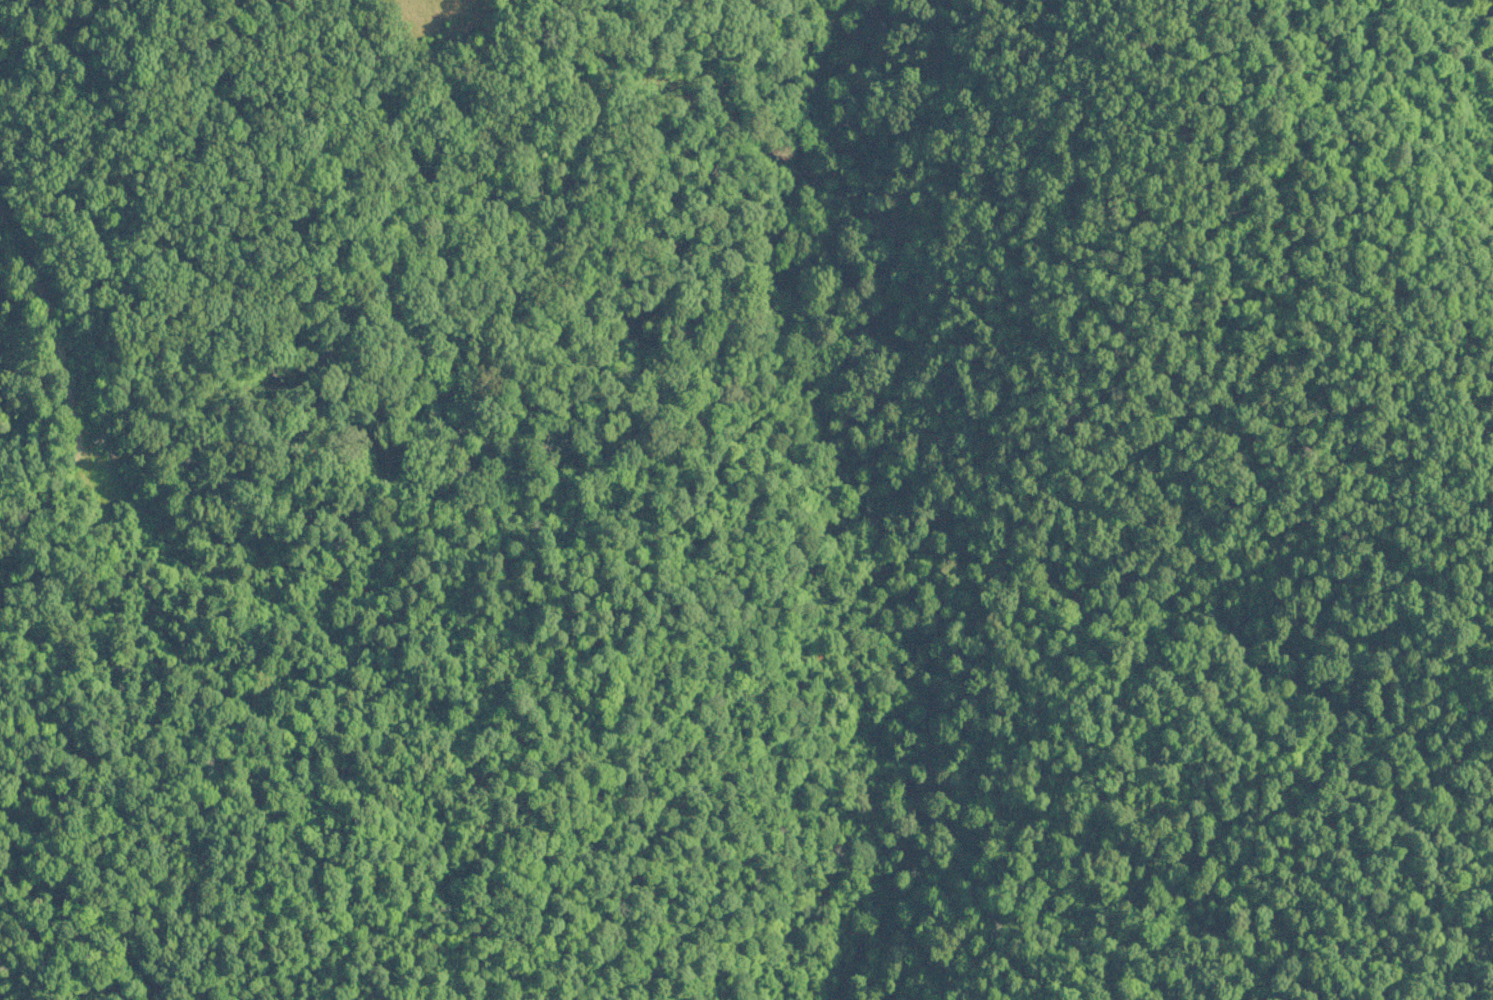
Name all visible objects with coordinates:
road: (44, 393)

